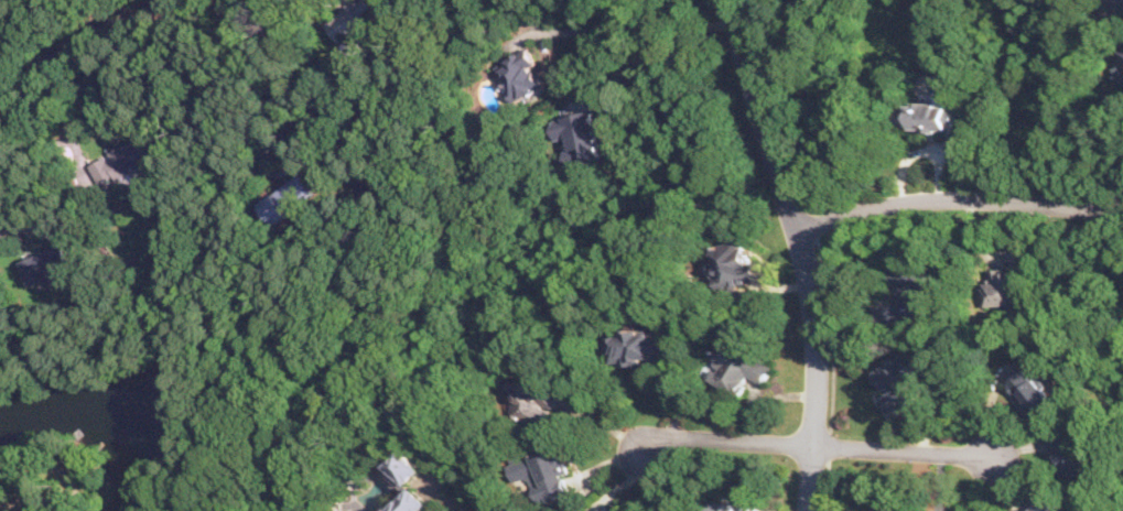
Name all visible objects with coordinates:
building: (1114, 3)
building: (355, 15)
road: (605, 21)
road: (663, 43)
road: (73, 48)
building: (1122, 51)
building: (1120, 70)
building: (521, 76)
road: (229, 77)
road: (995, 104)
road: (67, 121)
building: (943, 122)
building: (579, 135)
building: (122, 162)
building: (294, 194)
road: (958, 198)
road: (18, 227)
road: (801, 250)
building: (737, 264)
building: (46, 265)
building: (1004, 289)
building: (908, 297)
road: (833, 331)
building: (644, 346)
building: (741, 365)
building: (901, 380)
building: (1035, 388)
building: (536, 402)
road: (721, 439)
building: (1071, 449)
road: (907, 452)
building: (411, 468)
building: (544, 474)
road: (452, 494)
building: (414, 501)
building: (41, 502)
building: (1050, 503)
building: (737, 505)
building: (609, 509)

